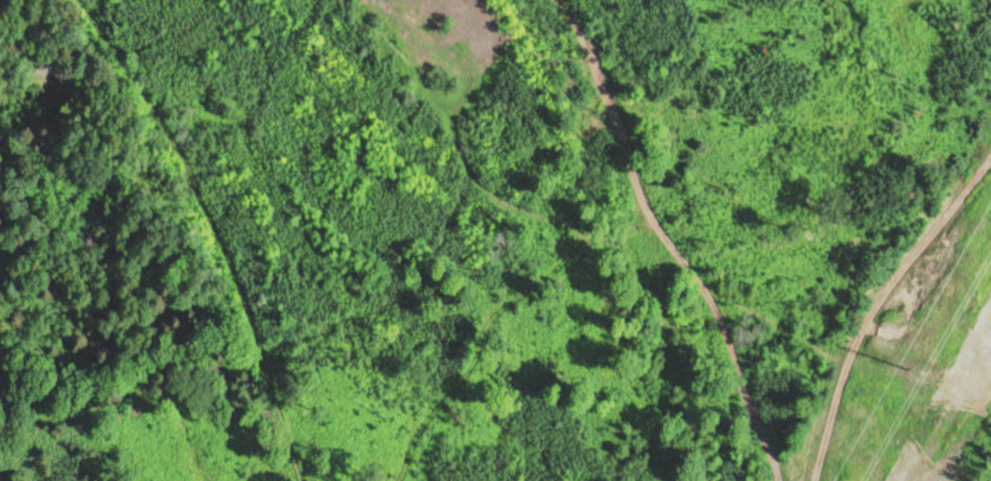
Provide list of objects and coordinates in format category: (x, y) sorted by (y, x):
road: (707, 240)
power tower: (910, 368)

